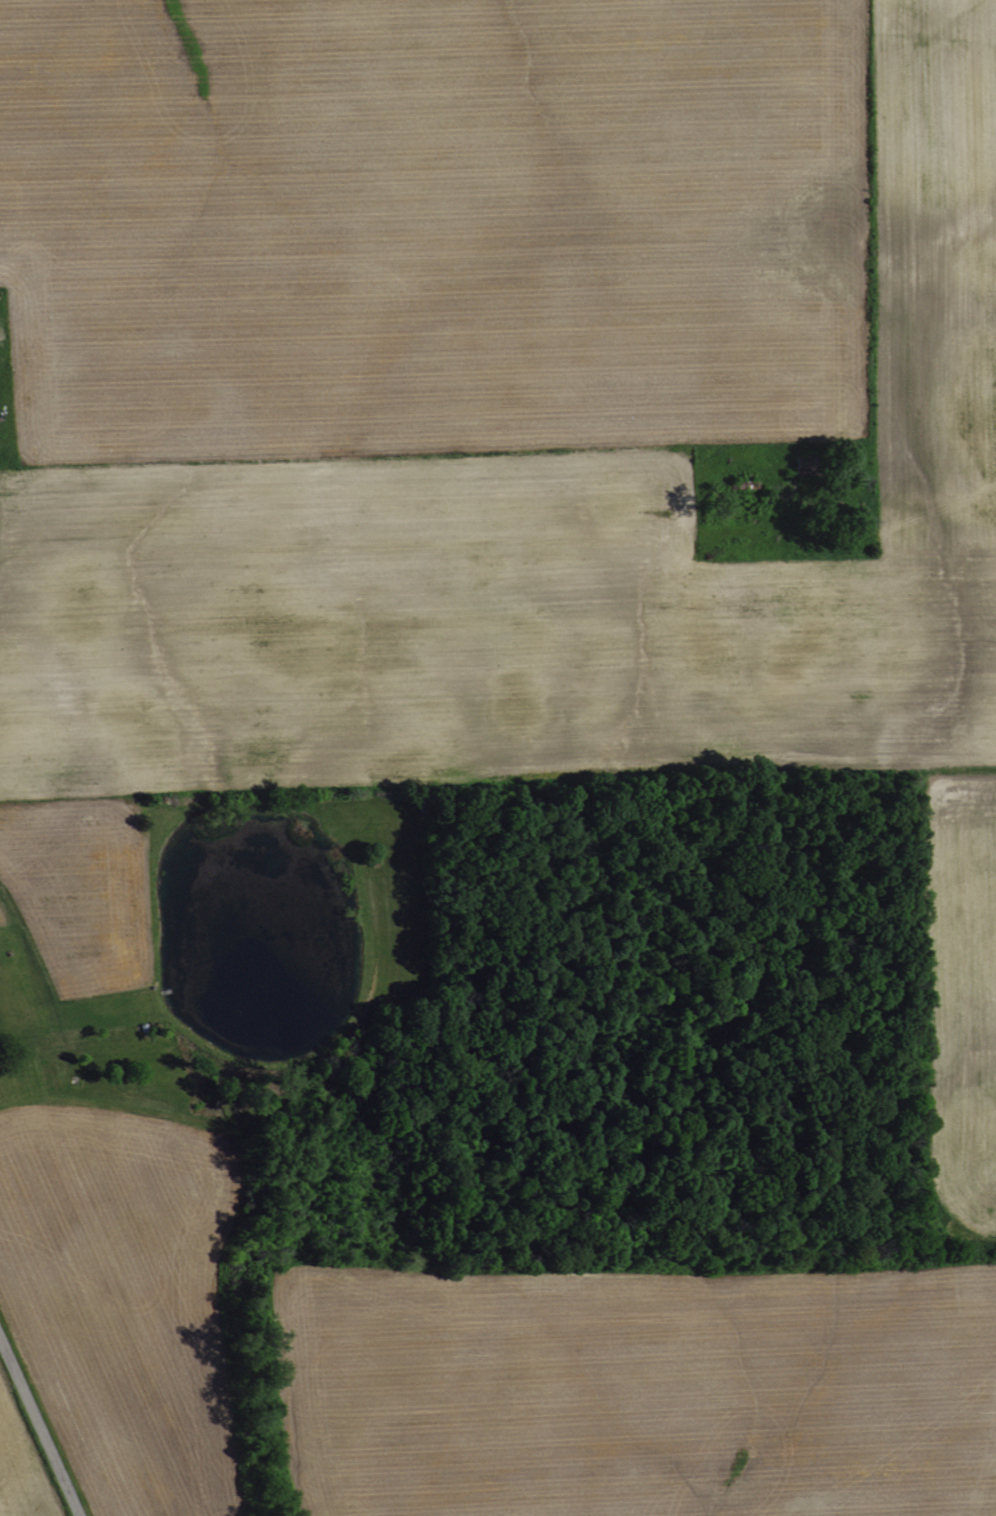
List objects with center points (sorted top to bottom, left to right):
road: (38, 1431)

